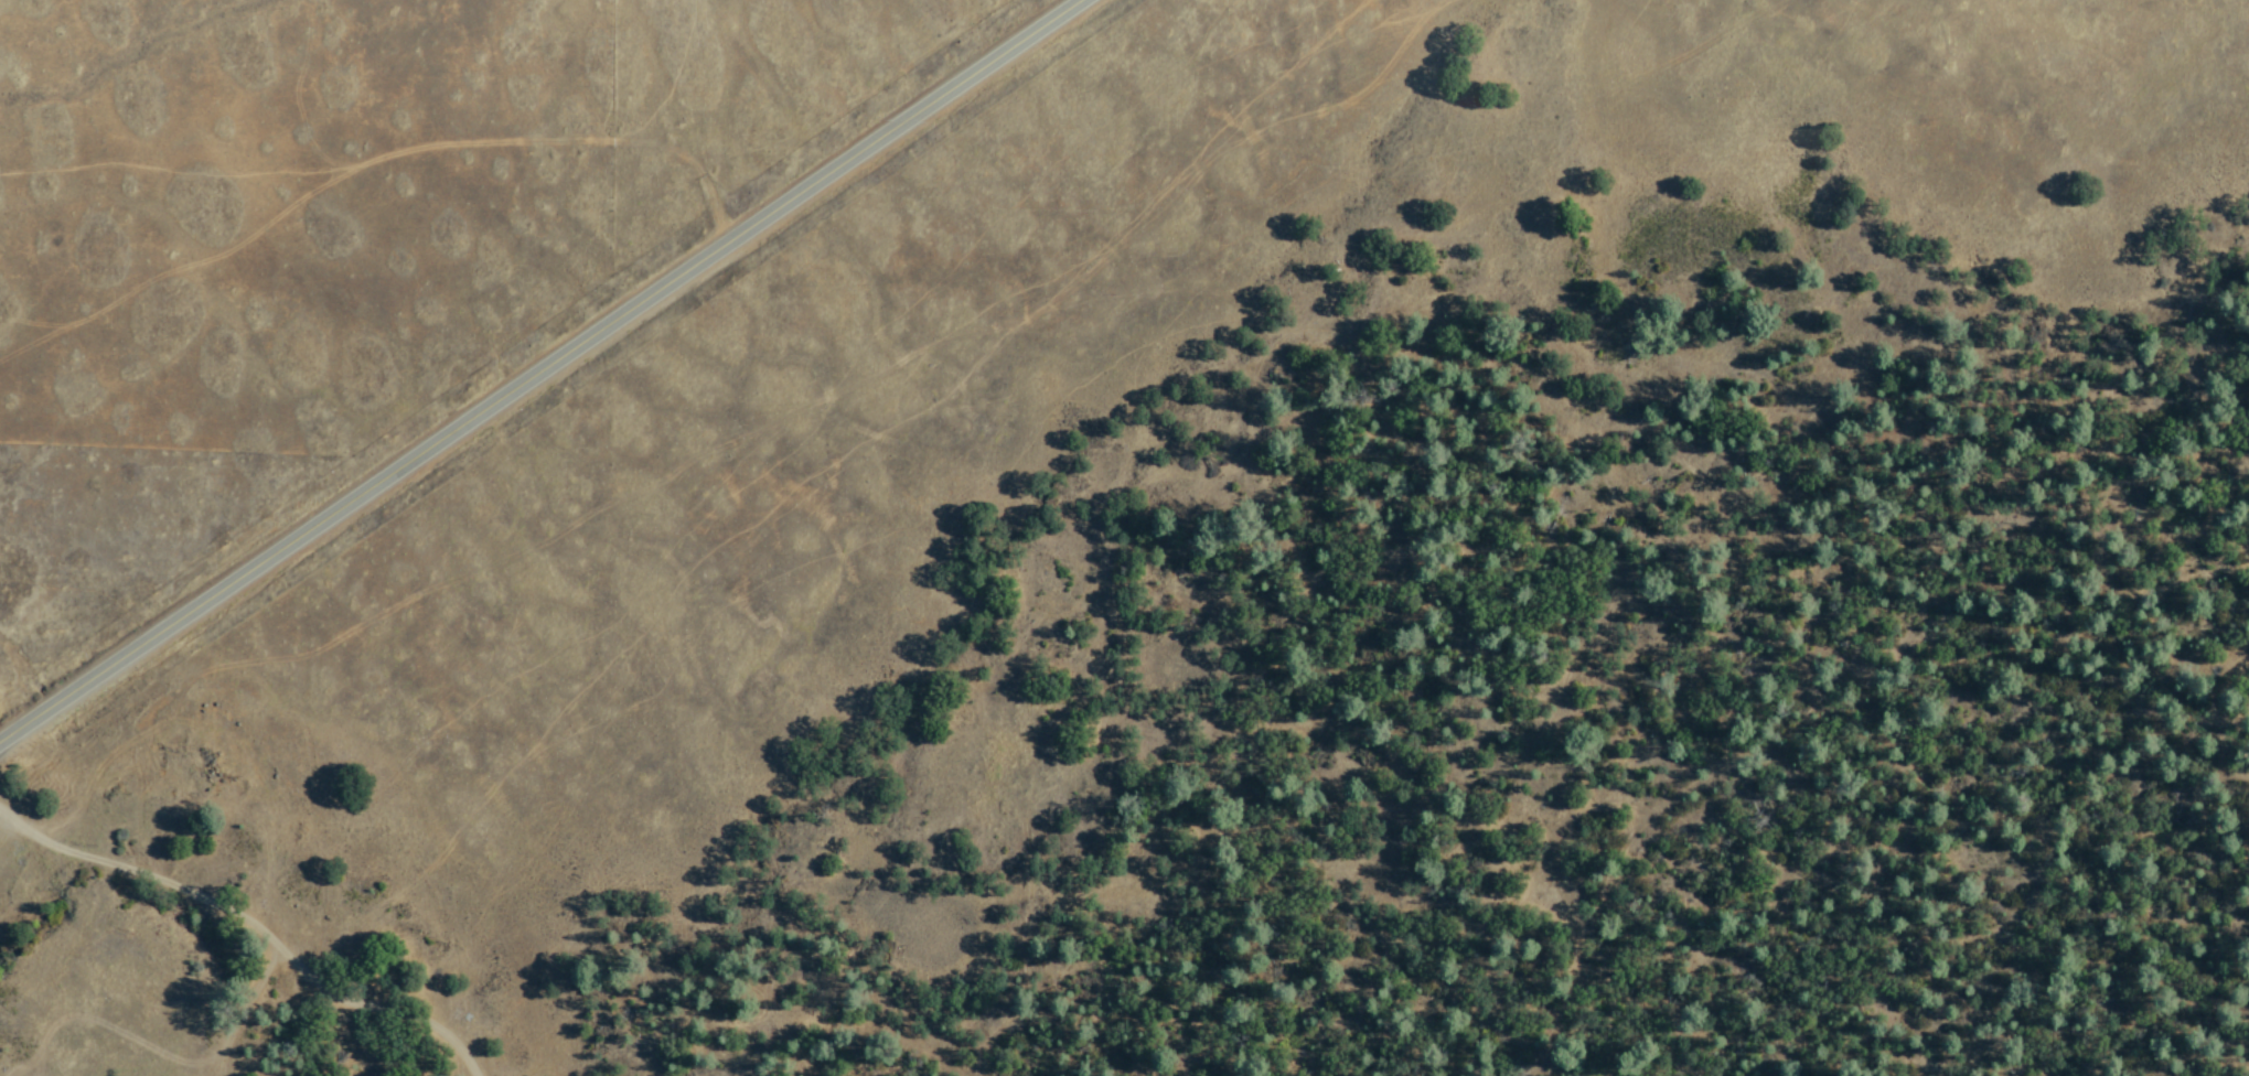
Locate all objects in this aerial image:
road: (365, 161)
road: (535, 370)
road: (240, 919)

